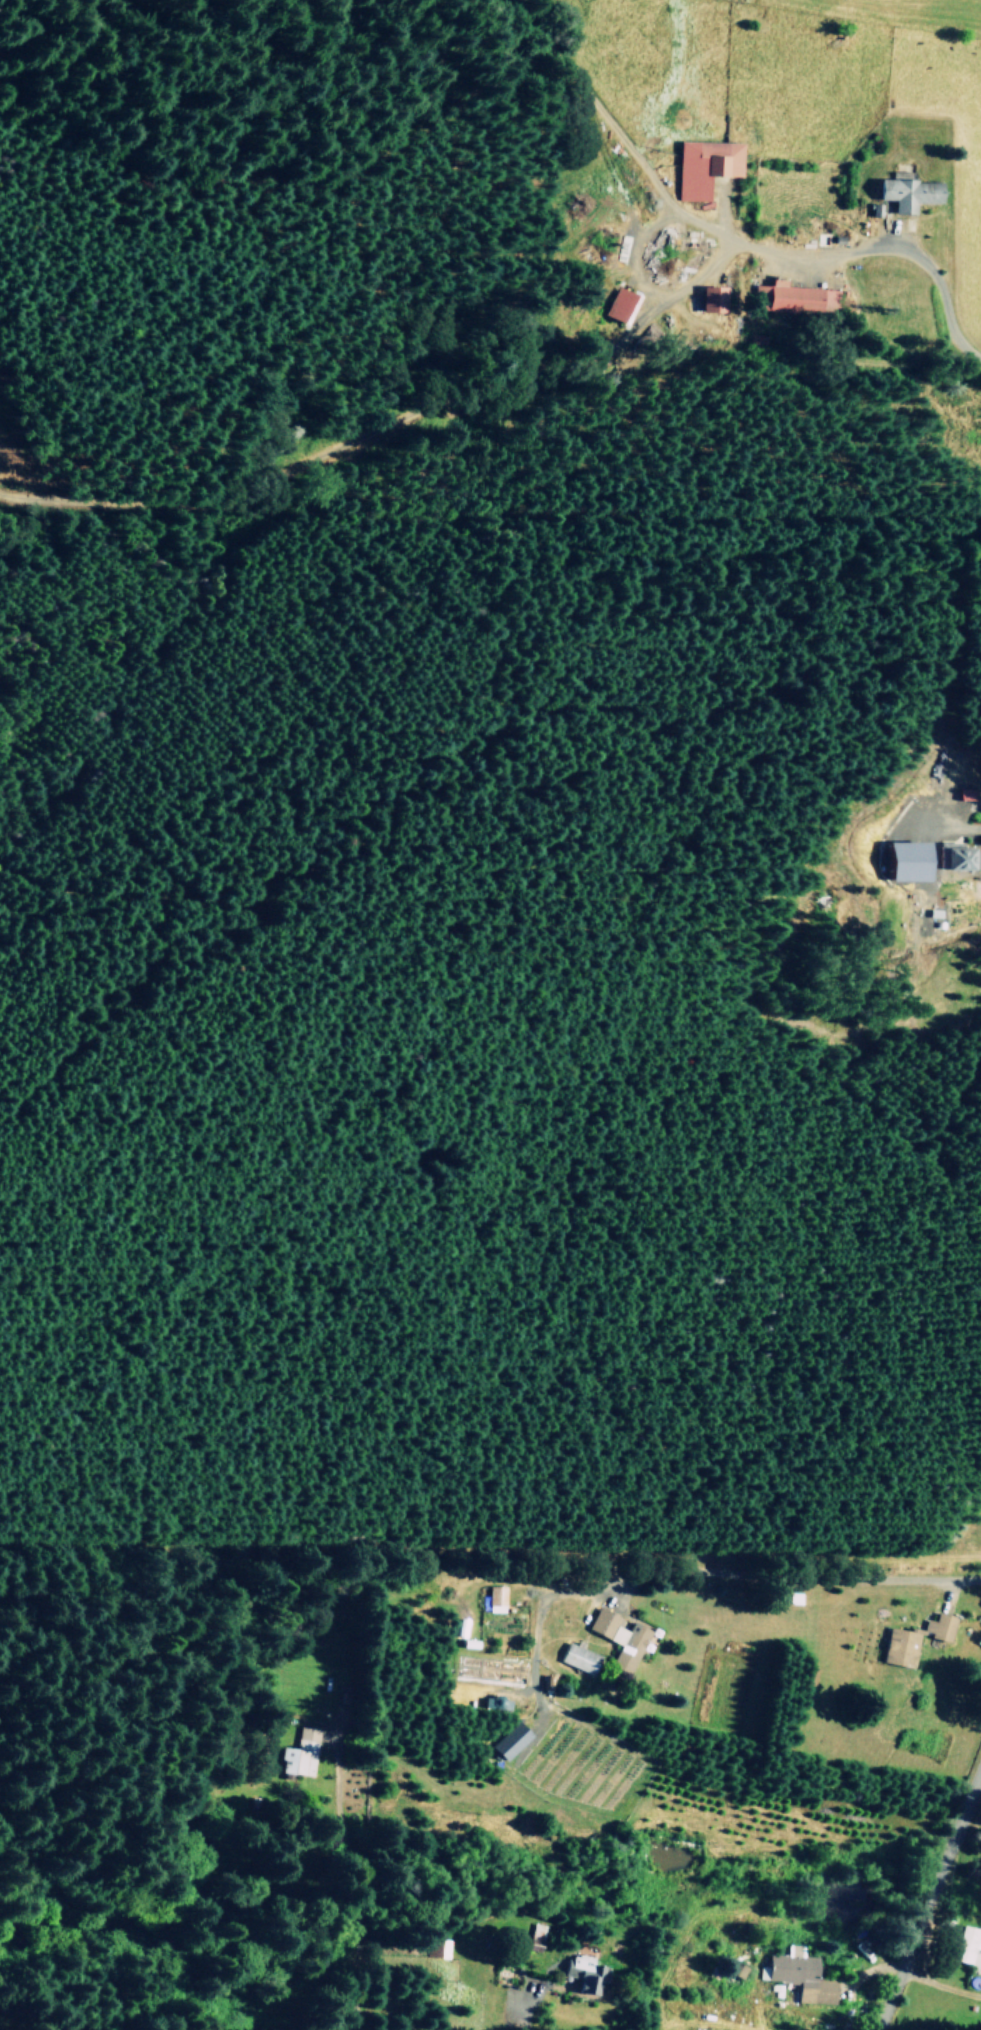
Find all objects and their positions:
building: (705, 166)
building: (911, 192)
building: (715, 298)
building: (798, 298)
building: (620, 305)
building: (957, 856)
building: (912, 861)
road: (598, 1572)
building: (496, 1598)
building: (941, 1626)
building: (621, 1637)
building: (902, 1647)
building: (581, 1658)
building: (481, 1667)
building: (510, 1740)
building: (300, 1753)
road: (927, 1898)
building: (537, 1931)
building: (970, 1942)
building: (586, 1972)
building: (799, 1975)

